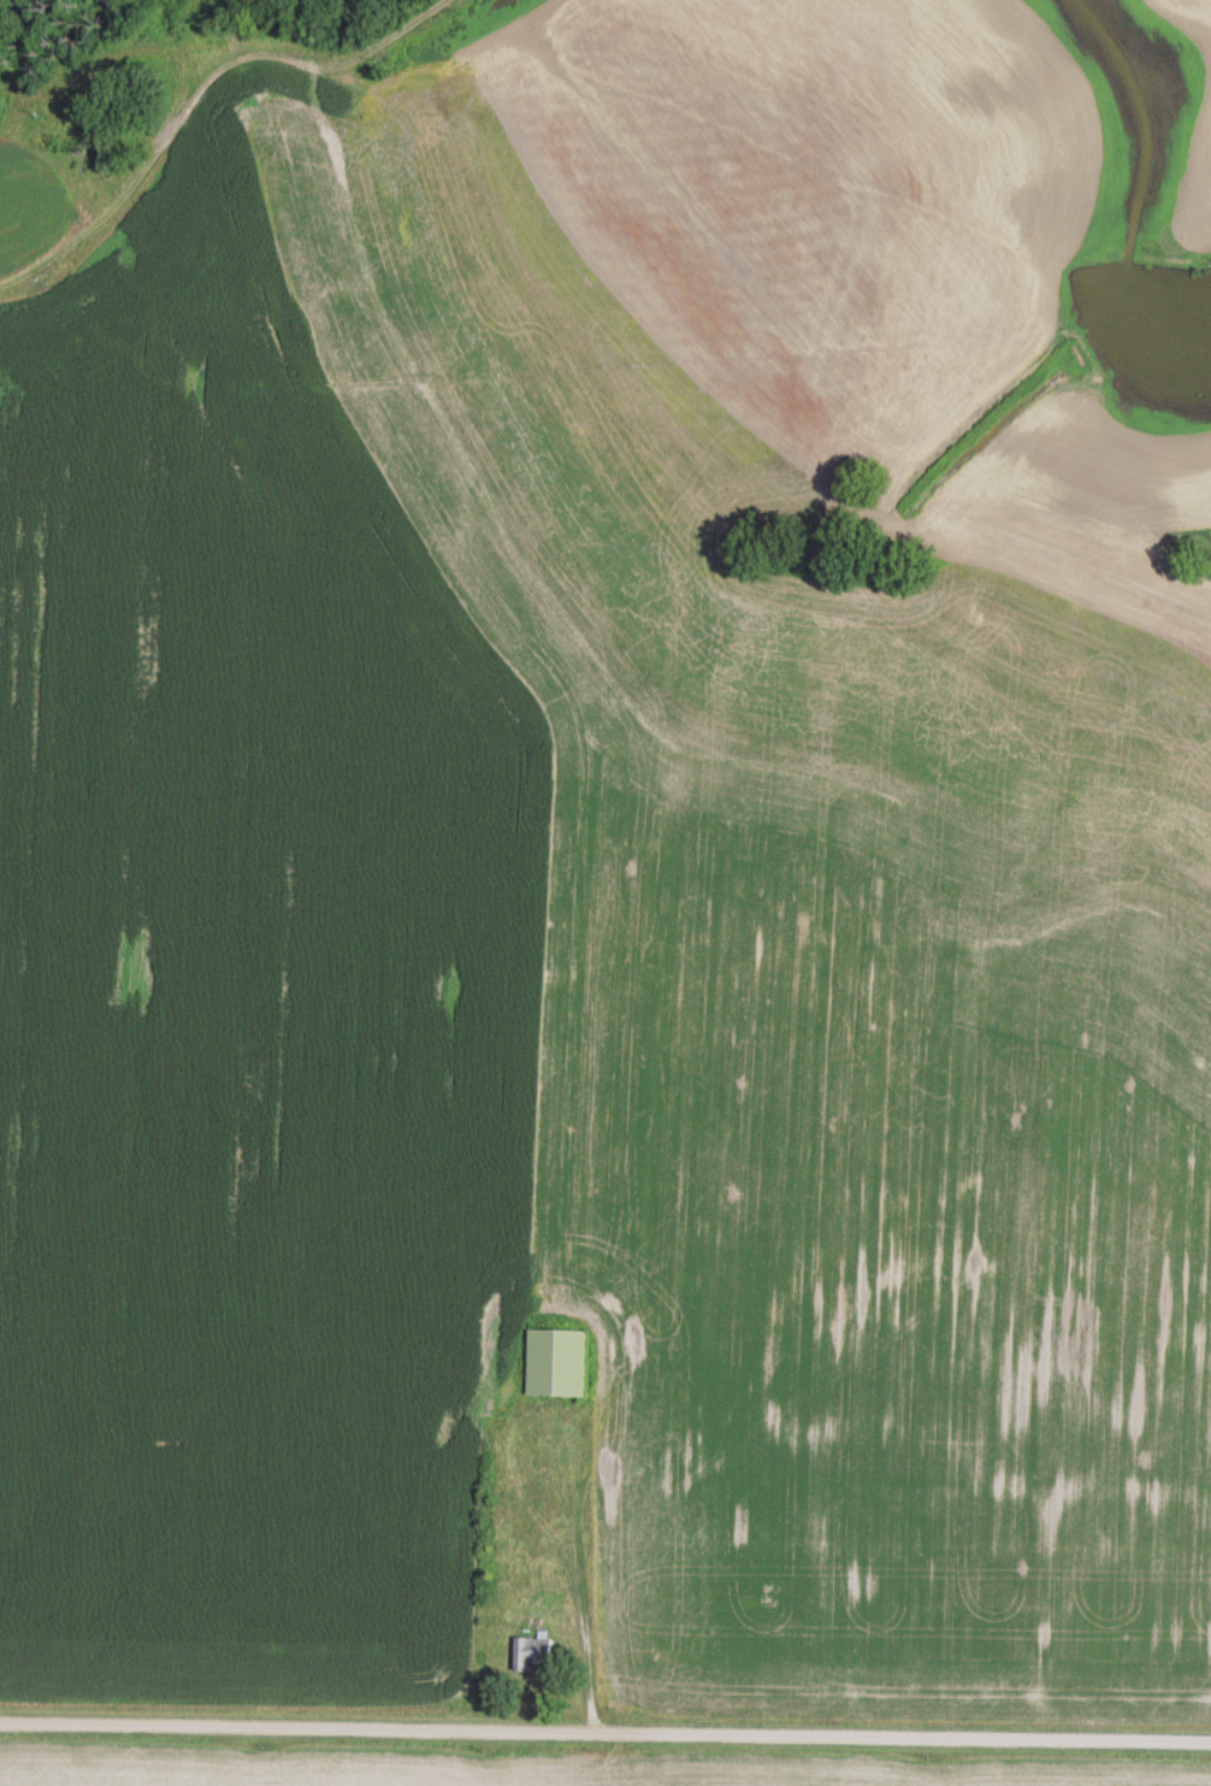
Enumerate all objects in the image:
road: (164, 210)
building: (559, 1362)
building: (532, 1652)
road: (604, 1731)

